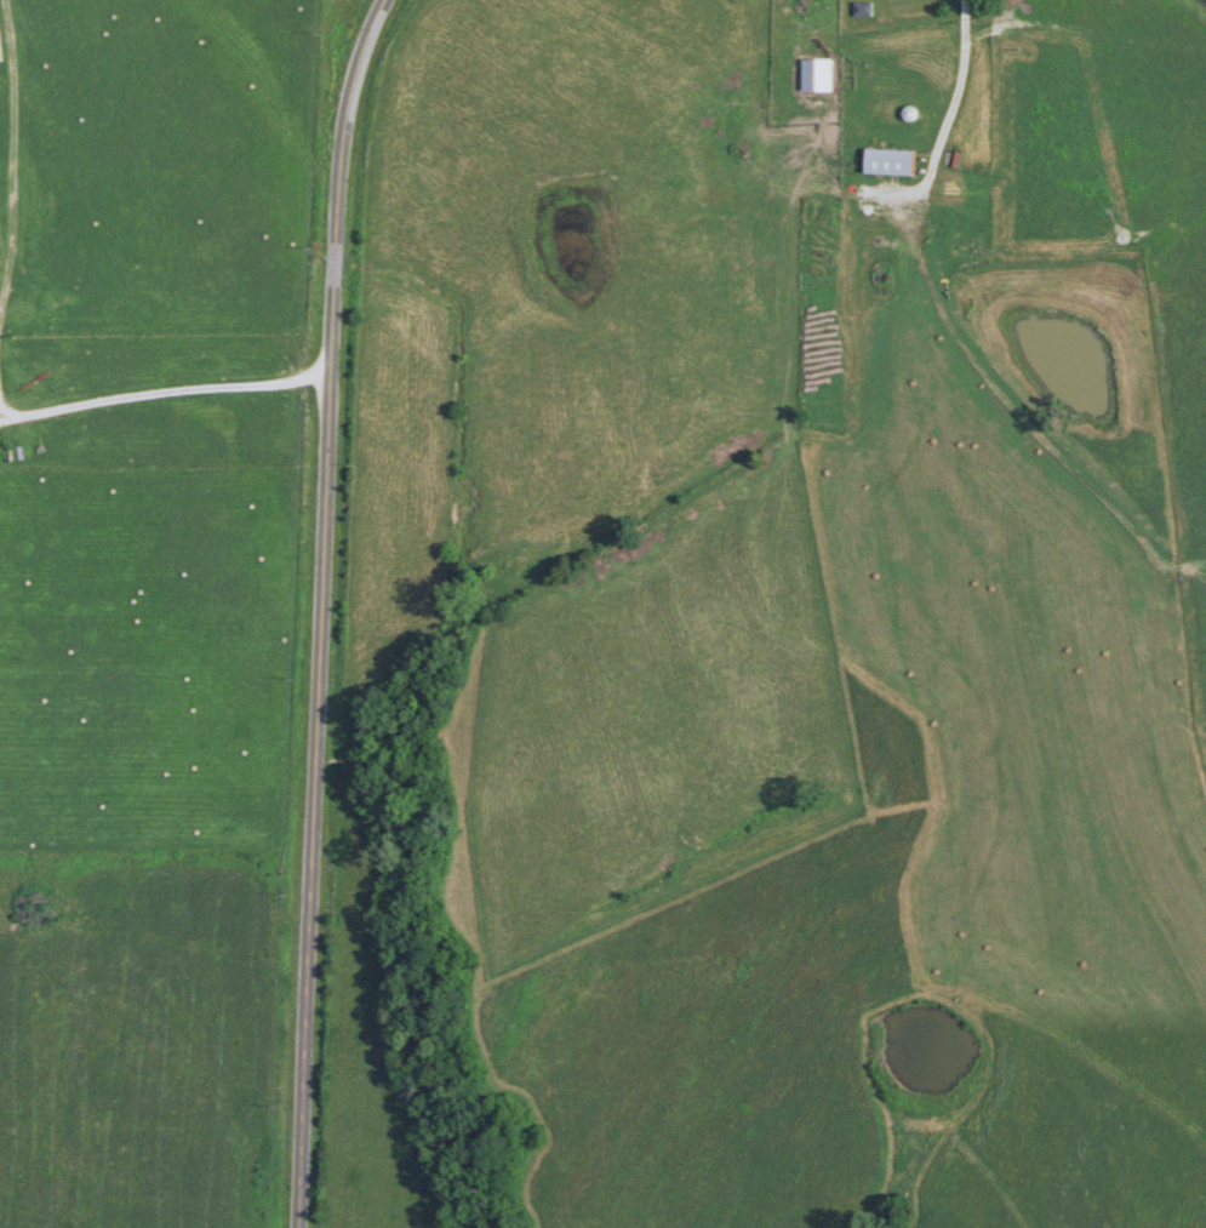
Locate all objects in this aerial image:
building: (862, 10)
building: (817, 75)
road: (960, 102)
building: (888, 162)
road: (166, 393)
road: (326, 610)

